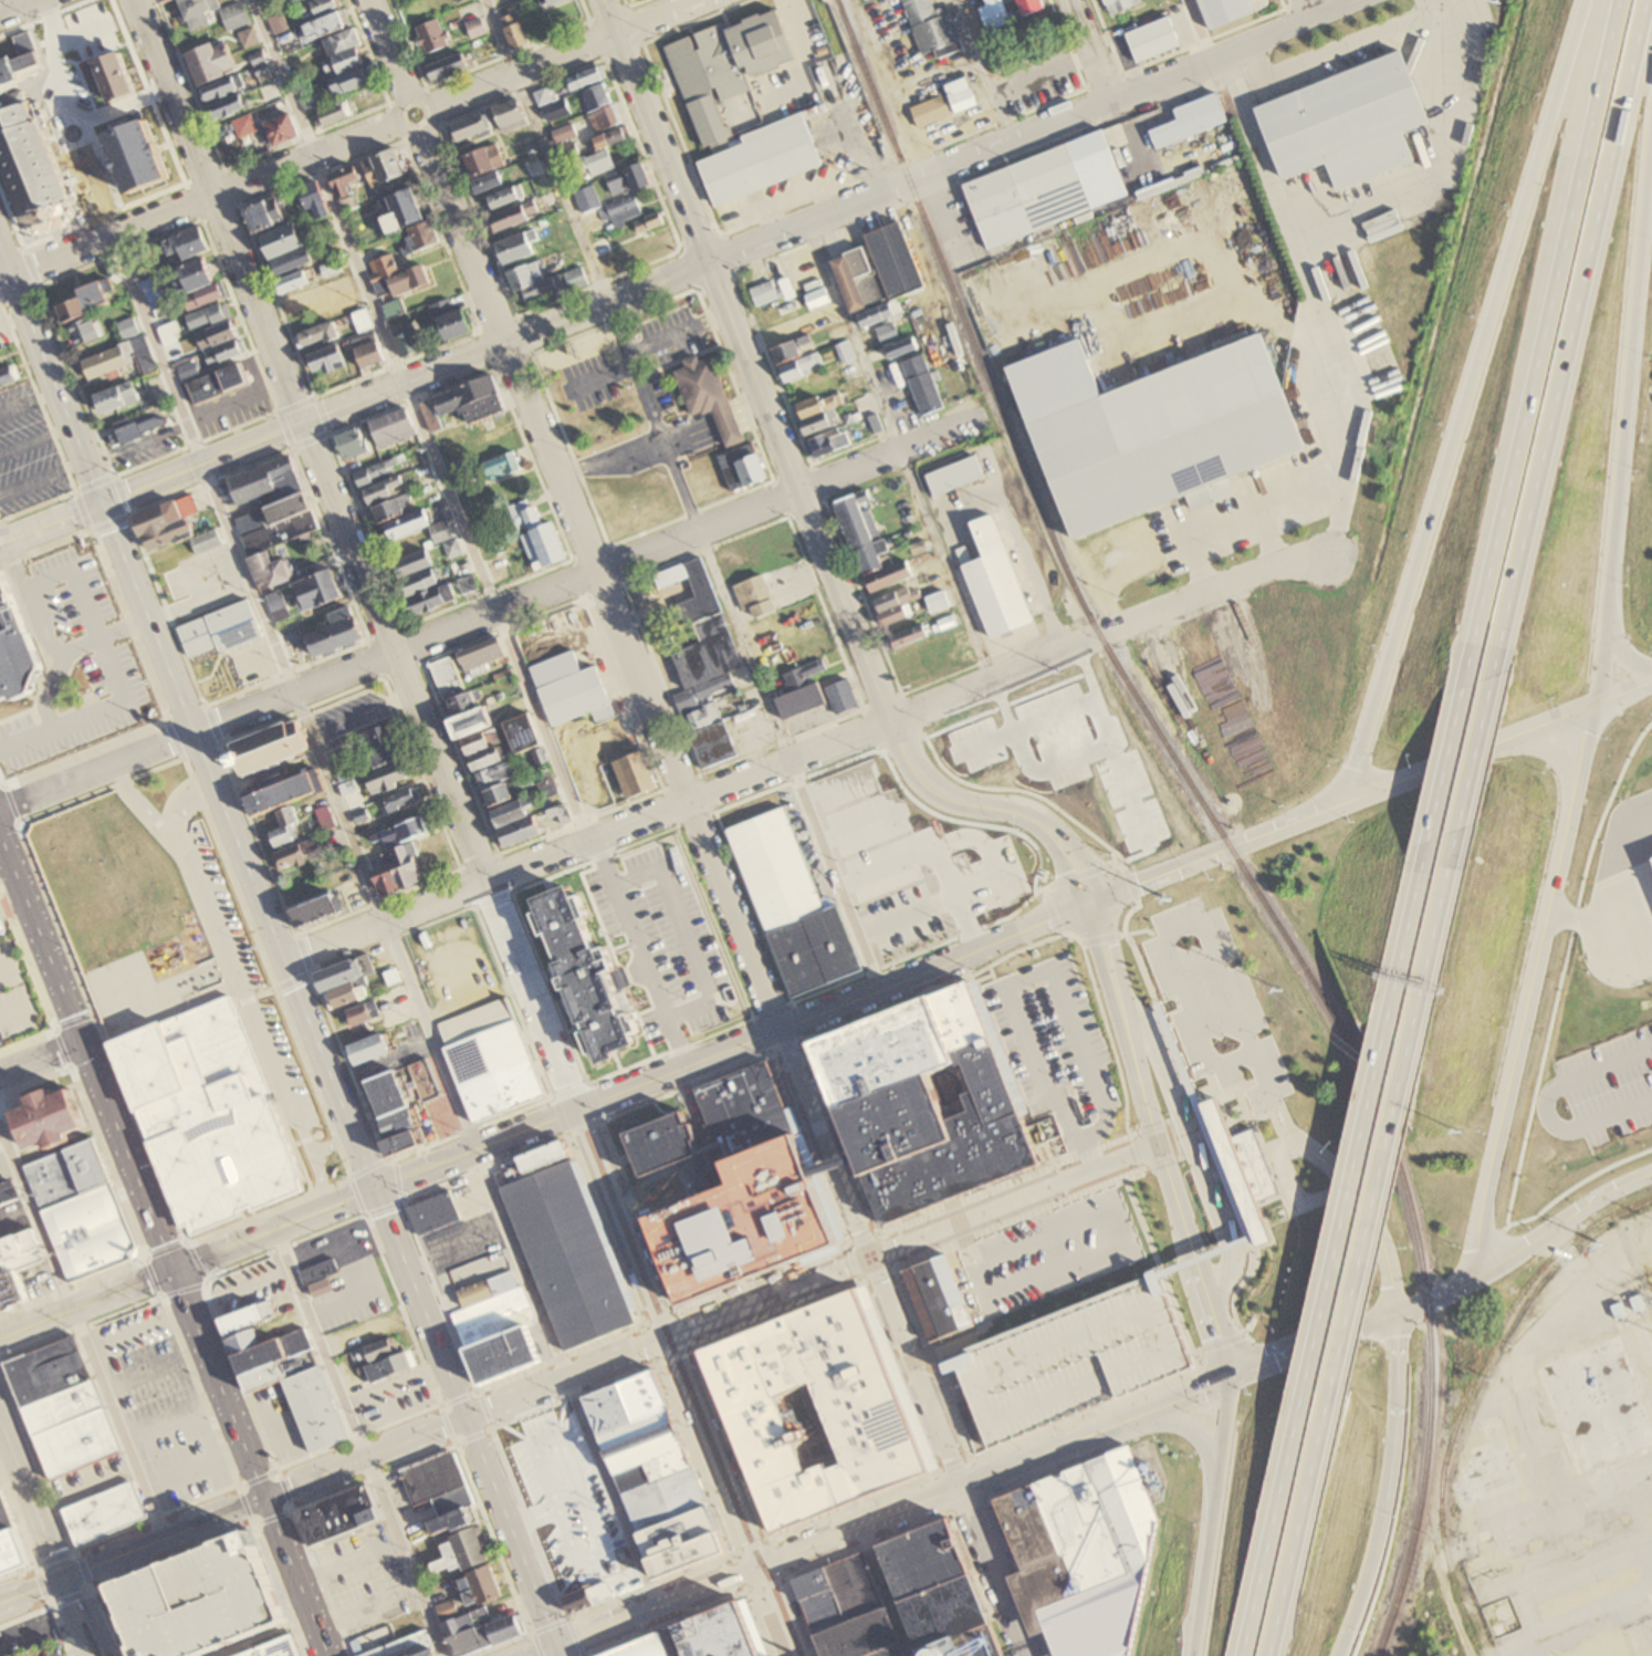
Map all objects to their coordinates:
road: (624, 2)
road: (629, 2)
road: (1288, 3)
building: (1120, 4)
building: (1026, 6)
road: (17, 7)
road: (1307, 9)
road: (584, 10)
building: (1225, 11)
building: (992, 12)
road: (693, 21)
building: (1033, 27)
building: (931, 28)
road: (1194, 29)
road: (1106, 37)
building: (1154, 40)
road: (639, 42)
road: (1065, 44)
road: (387, 49)
road: (1089, 49)
road: (1329, 51)
road: (564, 53)
building: (1000, 55)
road: (802, 56)
building: (722, 66)
road: (980, 70)
road: (1039, 71)
parking lot: (1036, 79)
road: (888, 86)
flagpole: (669, 95)
building: (944, 102)
building: (1186, 118)
road: (1002, 121)
building: (1349, 122)
road: (1029, 129)
road: (421, 132)
road: (679, 137)
road: (862, 147)
road: (548, 149)
road: (641, 153)
building: (760, 159)
road: (1441, 164)
power tower: (866, 169)
building: (1044, 190)
road: (784, 194)
road: (199, 201)
road: (218, 211)
road: (724, 254)
road: (774, 258)
building: (890, 259)
traffic signals: (708, 260)
building: (858, 277)
building: (784, 287)
road: (693, 289)
building: (762, 291)
building: (815, 296)
road: (1320, 302)
building: (877, 315)
road: (10, 322)
building: (885, 330)
road: (1575, 339)
road: (1118, 340)
road: (1536, 343)
road: (657, 344)
building: (898, 346)
building: (786, 347)
power tower: (935, 347)
building: (843, 348)
road: (746, 358)
building: (795, 366)
road: (771, 368)
road: (401, 382)
building: (919, 382)
building: (705, 399)
road: (1465, 399)
parking lot: (645, 402)
road: (25, 403)
building: (815, 404)
road: (652, 414)
building: (848, 417)
road: (421, 418)
road: (1624, 419)
building: (818, 420)
building: (872, 423)
road: (686, 428)
building: (1150, 428)
road: (171, 431)
road: (331, 434)
road: (53, 435)
road: (688, 435)
building: (826, 439)
road: (32, 441)
road: (691, 442)
road: (851, 446)
road: (901, 448)
road: (668, 457)
road: (555, 465)
building: (747, 468)
building: (953, 473)
road: (40, 479)
traffic signals: (97, 504)
power tower: (1001, 508)
road: (806, 509)
road: (1268, 509)
road: (125, 517)
building: (854, 518)
road: (48, 520)
road: (1266, 539)
building: (918, 544)
building: (868, 548)
road: (1023, 549)
road: (569, 560)
building: (867, 562)
road: (614, 564)
road: (1199, 565)
building: (886, 574)
building: (992, 580)
building: (704, 594)
building: (760, 596)
building: (892, 596)
building: (937, 600)
road: (142, 612)
road: (487, 613)
building: (896, 614)
building: (942, 622)
building: (220, 631)
road: (1109, 631)
building: (906, 636)
road: (879, 637)
road: (46, 638)
road: (368, 640)
road: (743, 644)
building: (17, 649)
road: (394, 649)
road: (1620, 649)
road: (145, 666)
road: (111, 671)
power tower: (1057, 674)
building: (447, 678)
parking lot: (117, 680)
road: (48, 690)
building: (571, 691)
road: (1624, 692)
road: (883, 699)
road: (1005, 704)
road: (358, 716)
road: (211, 725)
road: (1026, 725)
road: (1105, 725)
road: (1013, 729)
building: (475, 733)
road: (175, 739)
road: (900, 742)
building: (264, 747)
parking lot: (1067, 753)
road: (1481, 753)
road: (791, 758)
road: (1446, 765)
road: (697, 773)
building: (496, 775)
road: (249, 778)
road: (898, 780)
road: (835, 782)
building: (280, 788)
road: (660, 788)
road: (1127, 788)
road: (661, 789)
road: (1023, 789)
building: (510, 792)
road: (174, 794)
road: (1341, 801)
road: (333, 802)
road: (11, 804)
road: (140, 804)
road: (992, 806)
building: (557, 812)
railway: (1211, 814)
road: (694, 820)
road: (159, 823)
road: (858, 825)
building: (516, 829)
road: (587, 837)
parking lot: (912, 847)
road: (1140, 853)
road: (496, 854)
building: (1651, 858)
road: (888, 867)
road: (459, 868)
road: (834, 872)
road: (1623, 874)
road: (187, 881)
road: (1058, 884)
road: (1127, 884)
road: (466, 887)
road: (970, 889)
road: (512, 892)
road: (955, 897)
road: (492, 898)
power tower: (1169, 900)
traffic signals: (1087, 902)
road: (10, 903)
building: (790, 903)
road: (1023, 904)
road: (734, 912)
road: (383, 917)
parking lot: (902, 917)
road: (1596, 923)
road: (1146, 928)
road: (1201, 928)
road: (683, 931)
parking lot: (663, 937)
road: (1102, 939)
road: (1101, 940)
road: (1403, 947)
road: (634, 951)
road: (300, 952)
parking lot: (451, 957)
road: (1434, 957)
traffic signals: (282, 958)
road: (6, 960)
road: (457, 969)
building: (343, 970)
building: (582, 970)
road: (311, 971)
building: (390, 975)
road: (977, 978)
road: (994, 979)
road: (290, 980)
road: (1026, 983)
parking lot: (250, 987)
road: (242, 989)
road: (244, 989)
road: (261, 989)
road: (40, 990)
road: (531, 991)
power tower: (1283, 991)
park: (125, 992)
building: (344, 992)
road: (1530, 993)
parking lot: (14, 994)
road: (804, 996)
road: (472, 998)
parking lot: (1213, 1000)
road: (790, 1002)
road: (92, 1013)
building: (359, 1013)
road: (14, 1014)
road: (160, 1021)
road: (1106, 1028)
parking lot: (1052, 1040)
traffic signals: (81, 1043)
road: (730, 1044)
building: (365, 1046)
road: (1545, 1048)
road: (64, 1049)
road: (85, 1054)
building: (488, 1058)
road: (40, 1059)
road: (327, 1072)
road: (1010, 1076)
building: (422, 1079)
parking lot: (1610, 1083)
building: (387, 1092)
road: (274, 1093)
building: (1192, 1096)
building: (921, 1101)
road: (1543, 1106)
building: (742, 1111)
building: (209, 1115)
parking lot: (441, 1115)
building: (56, 1119)
road: (600, 1121)
building: (397, 1122)
road: (1196, 1122)
road: (0, 1123)
road: (701, 1123)
road: (1148, 1127)
road: (840, 1129)
power tower: (1452, 1131)
road: (606, 1134)
road: (1188, 1134)
flagpole: (318, 1135)
road: (1174, 1137)
building: (400, 1139)
road: (825, 1141)
road: (1190, 1141)
building: (656, 1142)
road: (1159, 1144)
road: (334, 1145)
road: (807, 1149)
road: (1318, 1155)
building: (541, 1157)
building: (1238, 1167)
road: (1143, 1168)
road: (1132, 1173)
building: (66, 1174)
building: (689, 1175)
traffic signals: (374, 1187)
road: (1295, 1190)
road: (398, 1198)
road: (1015, 1199)
road: (124, 1201)
building: (11, 1211)
building: (433, 1211)
road: (955, 1214)
road: (1342, 1219)
road: (1008, 1221)
road: (621, 1222)
building: (740, 1222)
road: (1556, 1223)
road: (273, 1228)
building: (90, 1231)
road: (881, 1235)
road: (1371, 1238)
parking lot: (460, 1241)
road: (1120, 1241)
road: (966, 1242)
road: (1482, 1242)
road: (1381, 1244)
power tower: (1603, 1244)
road: (456, 1248)
building: (18, 1249)
road: (341, 1249)
power substation: (1639, 1251)
parking lot: (1049, 1252)
building: (564, 1253)
road: (1159, 1266)
traffic signals: (172, 1269)
flagpole: (1290, 1269)
road: (199, 1280)
road: (762, 1280)
road: (861, 1280)
flagpole: (1287, 1280)
road: (861, 1281)
parking lot: (248, 1285)
building: (487, 1285)
building: (11, 1289)
building: (368, 1289)
flagpole: (1285, 1290)
road: (241, 1291)
road: (769, 1295)
road: (770, 1296)
building: (934, 1296)
road: (1426, 1302)
road: (86, 1303)
road: (1044, 1310)
building: (491, 1314)
road: (981, 1314)
building: (249, 1316)
road: (644, 1326)
road: (82, 1329)
road: (140, 1330)
road: (1217, 1343)
road: (689, 1346)
road: (1217, 1347)
building: (377, 1350)
road: (1309, 1350)
building: (501, 1353)
building: (268, 1355)
building: (1069, 1357)
parking garage: (1069, 1357)
road: (154, 1364)
building: (389, 1367)
road: (917, 1369)
road: (394, 1381)
traffic signals: (1230, 1382)
road: (218, 1383)
road: (940, 1385)
railway: (1471, 1392)
road: (475, 1393)
railway: (1435, 1395)
building: (623, 1399)
road: (169, 1403)
road: (1175, 1403)
building: (1600, 1404)
parking lot: (161, 1407)
road: (439, 1408)
building: (861, 1408)
building: (61, 1409)
road: (482, 1410)
building: (307, 1413)
road: (467, 1415)
road: (561, 1416)
road: (466, 1417)
road: (815, 1423)
road: (804, 1424)
road: (448, 1425)
road: (1181, 1426)
road: (516, 1433)
building: (638, 1438)
road: (359, 1441)
road: (711, 1451)
road: (993, 1452)
road: (1041, 1454)
road: (421, 1456)
power substation: (1570, 1465)
road: (954, 1467)
building: (1491, 1468)
building: (650, 1469)
road: (1054, 1470)
road: (198, 1475)
building: (438, 1483)
road: (237, 1485)
road: (578, 1485)
road: (86, 1490)
road: (1390, 1490)
road: (283, 1491)
parking lot: (568, 1493)
building: (661, 1498)
road: (30, 1501)
road: (969, 1503)
road: (247, 1507)
road: (847, 1507)
building: (4, 1512)
road: (532, 1513)
building: (103, 1514)
building: (344, 1519)
road: (1212, 1519)
road: (1274, 1521)
road: (1305, 1524)
road: (858, 1525)
road: (899, 1530)
road: (1499, 1538)
road: (27, 1539)
building: (678, 1540)
road: (205, 1542)
building: (12, 1551)
road: (133, 1551)
road: (732, 1552)
building: (1084, 1554)
building: (473, 1556)
building: (927, 1560)
road: (349, 1562)
road: (992, 1570)
road: (781, 1574)
road: (297, 1576)
road: (569, 1576)
parking lot: (366, 1582)
road: (93, 1585)
building: (840, 1592)
building: (585, 1594)
building: (200, 1600)
parking garage: (200, 1600)
road: (50, 1605)
road: (656, 1605)
road: (701, 1608)
road: (370, 1611)
road: (774, 1611)
building: (947, 1612)
road: (87, 1615)
road: (66, 1618)
road: (557, 1624)
road: (32, 1627)
building: (479, 1631)
building: (722, 1633)
building: (388, 1634)
building: (861, 1635)
parking lot: (30, 1637)
building: (969, 1644)
traffic signals: (556, 1645)
building: (407, 1647)
building: (644, 1647)
building: (1608, 1647)
building: (278, 1648)
road: (543, 1650)
road: (558, 1650)
building: (888, 1652)

